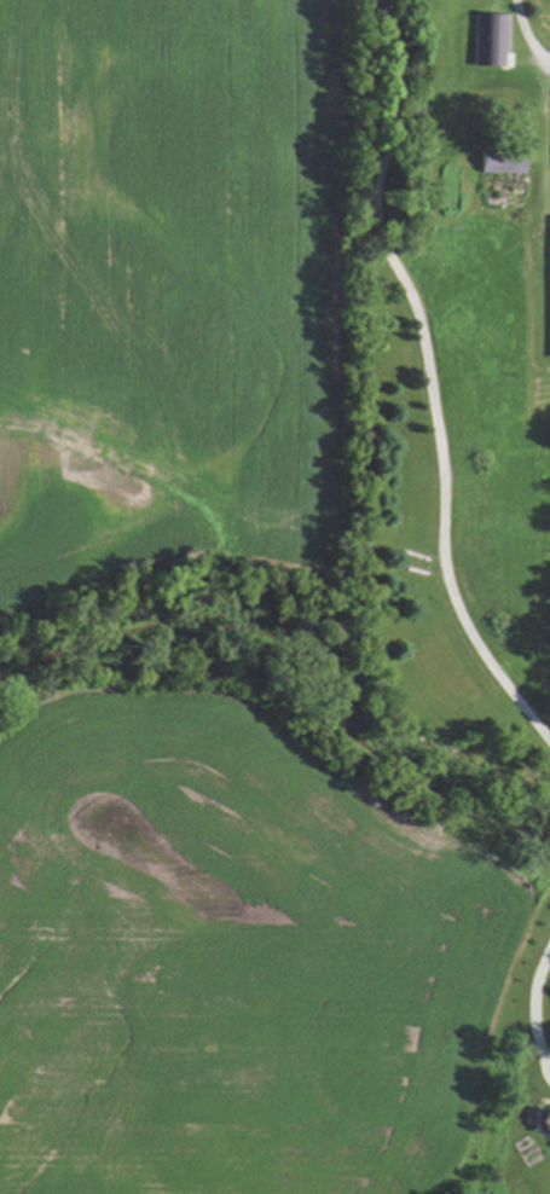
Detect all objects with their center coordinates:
building: (493, 36)
road: (525, 37)
building: (499, 163)
road: (429, 375)
road: (535, 1010)
building: (543, 1121)

